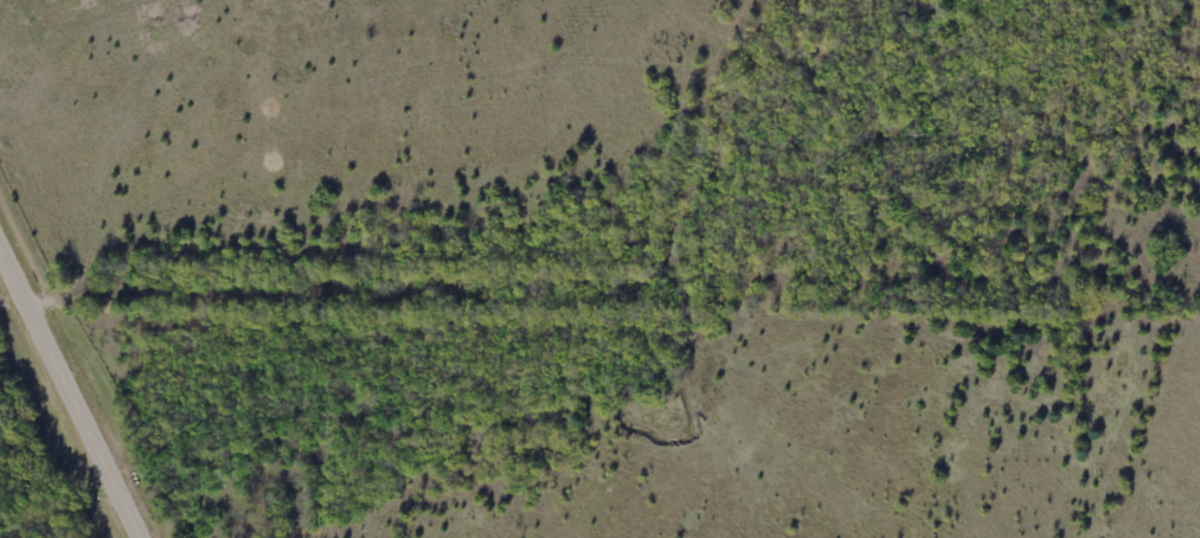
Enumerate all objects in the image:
road: (68, 397)

